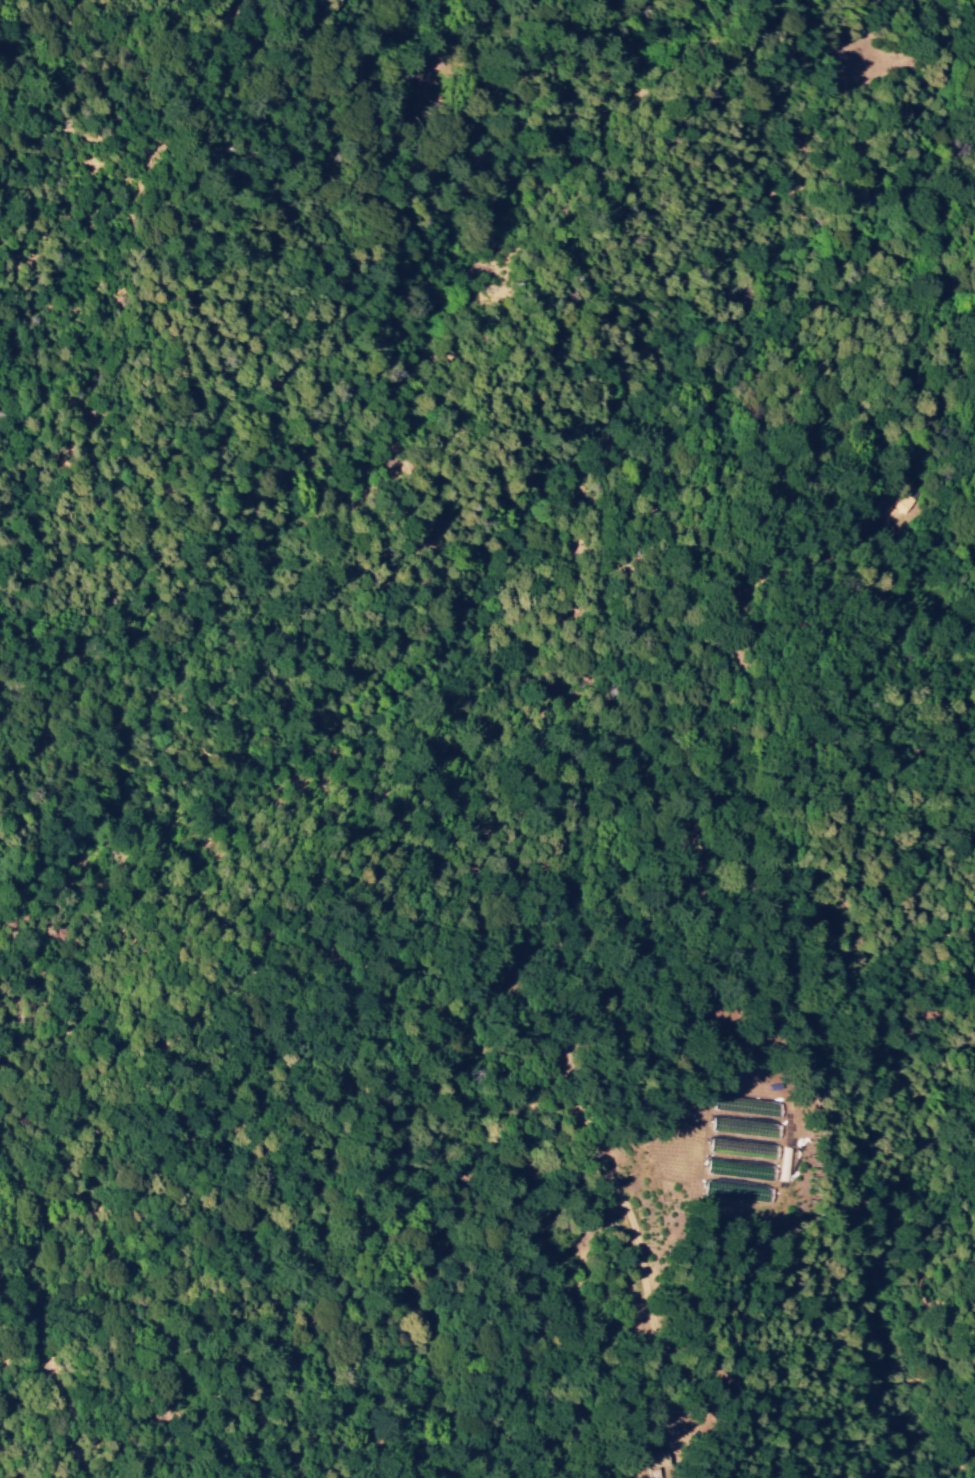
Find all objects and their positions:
building: (743, 1147)
building: (740, 1168)
building: (737, 1190)

